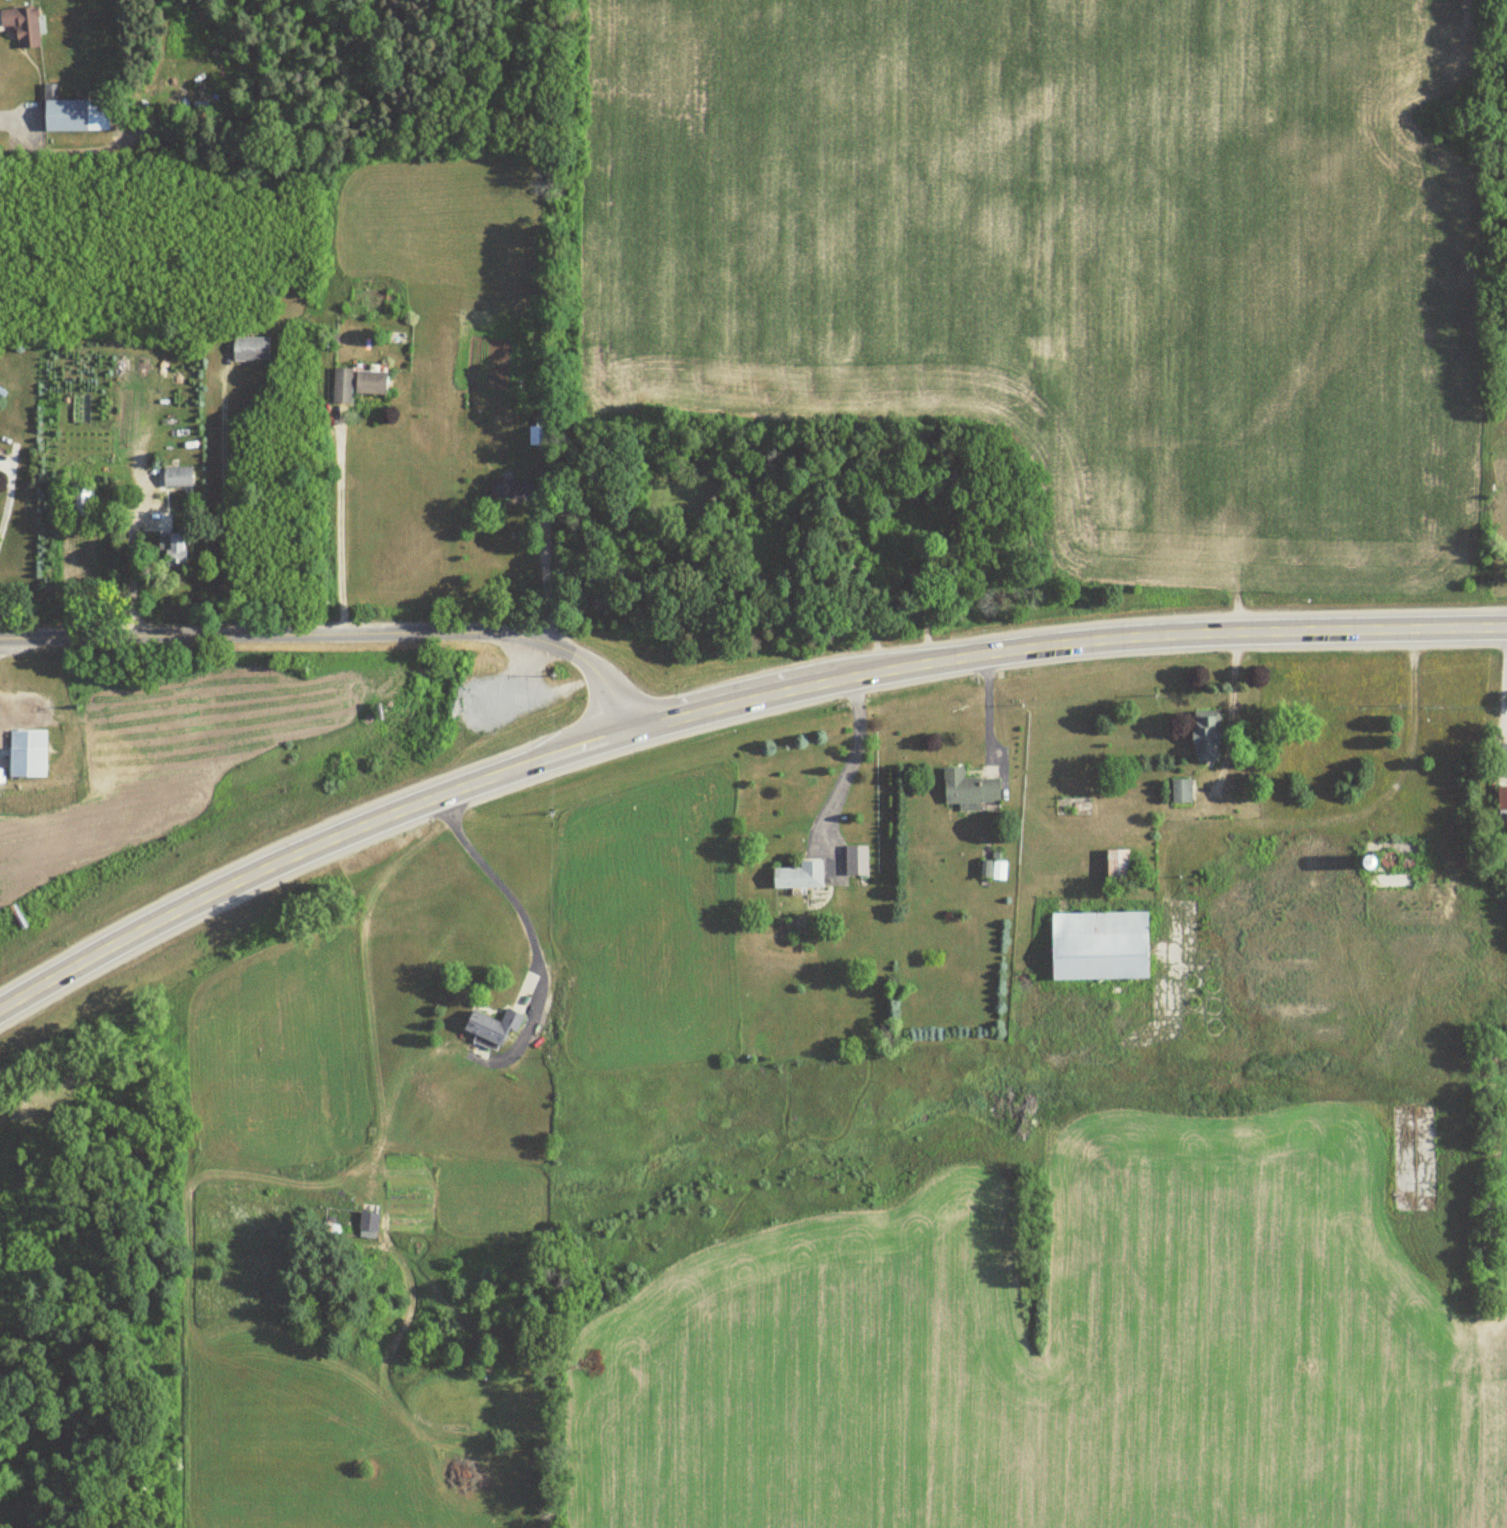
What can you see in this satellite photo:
building: (20, 27)
building: (71, 113)
building: (249, 348)
building: (355, 383)
building: (176, 477)
building: (511, 490)
road: (5, 499)
building: (79, 500)
road: (225, 503)
road: (338, 525)
building: (172, 551)
road: (132, 569)
road: (545, 579)
road: (341, 633)
road: (1505, 678)
road: (724, 705)
road: (987, 707)
road: (1229, 727)
building: (1204, 737)
building: (26, 753)
building: (1503, 755)
road: (852, 759)
building: (967, 789)
building: (1179, 790)
building: (1501, 804)
road: (1352, 813)
building: (855, 860)
building: (992, 870)
building: (798, 875)
building: (1387, 878)
road: (499, 884)
building: (1284, 884)
building: (1098, 945)
building: (1332, 1008)
building: (491, 1025)

